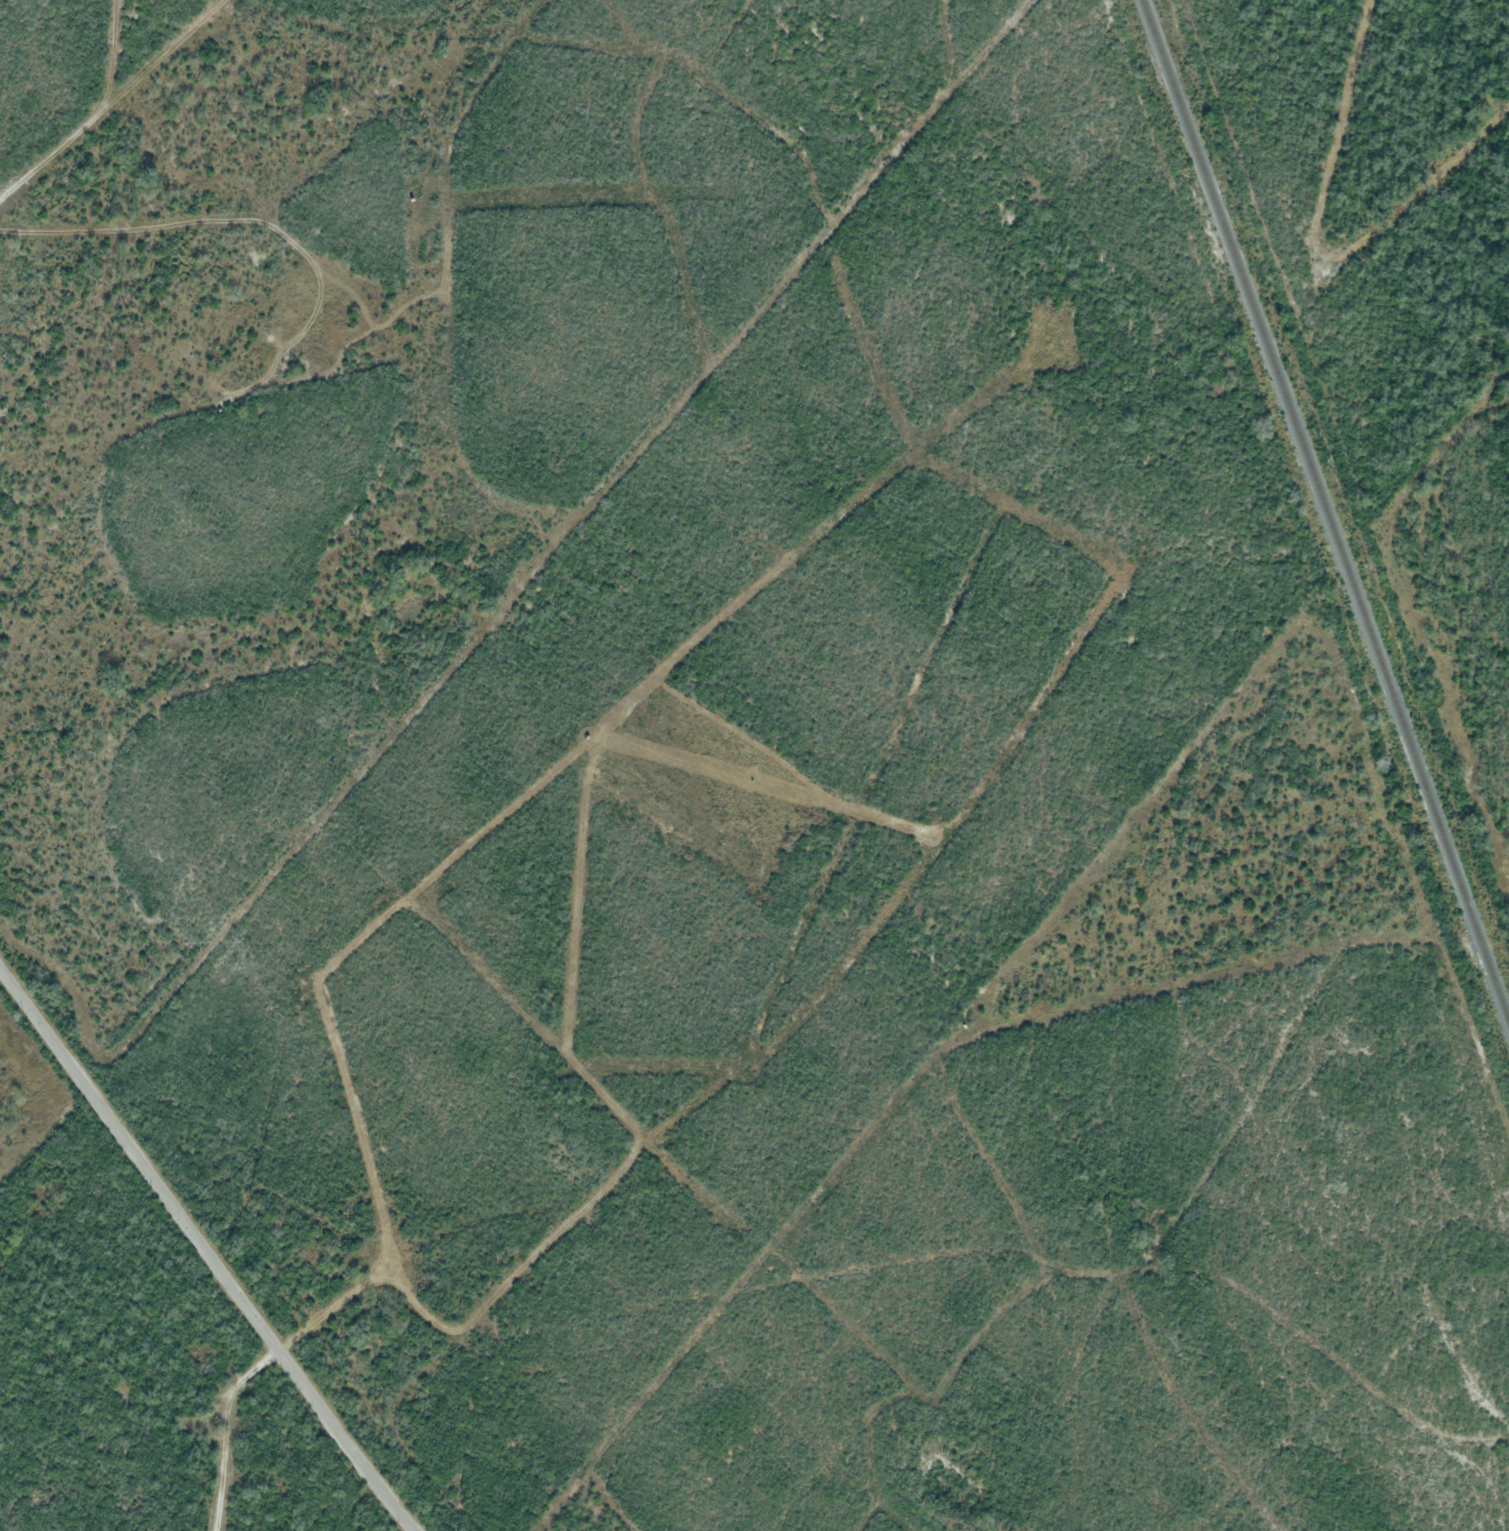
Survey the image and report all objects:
road: (103, 95)
railway: (1324, 512)
road: (1290, 595)
road: (486, 654)
road: (971, 1248)
road: (210, 1249)

